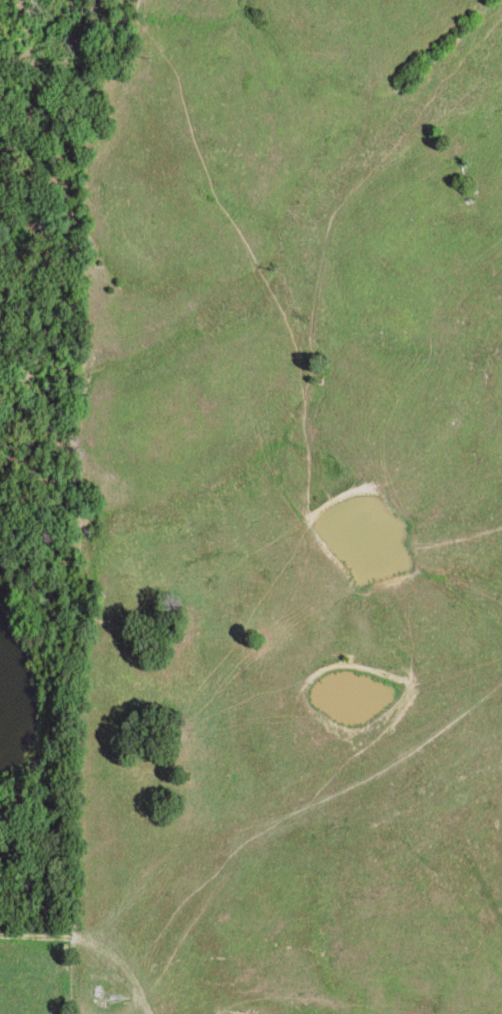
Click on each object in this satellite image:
road: (115, 761)

